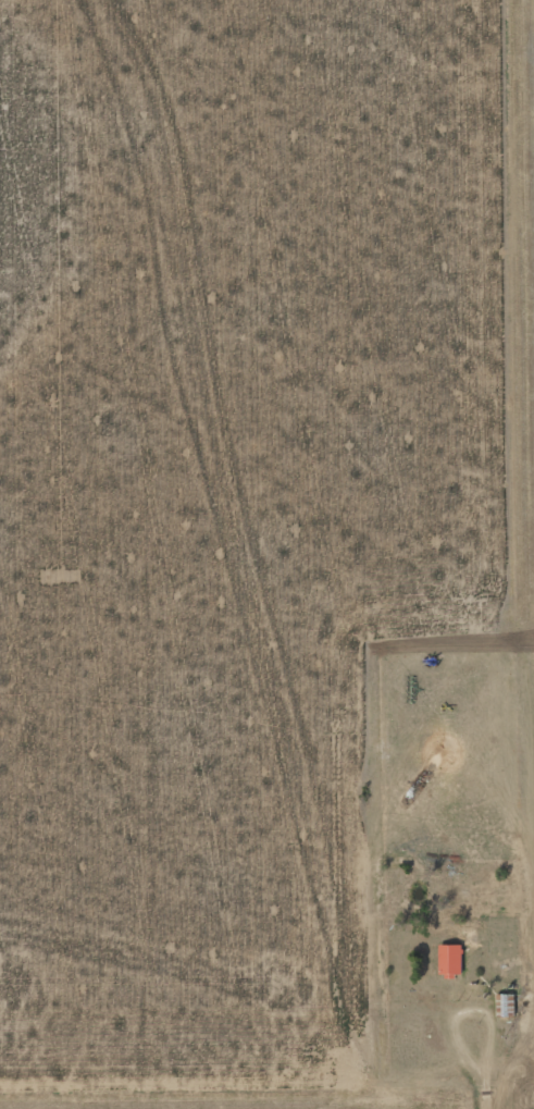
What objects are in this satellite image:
building: (452, 961)
building: (506, 1006)
building: (533, 1084)

